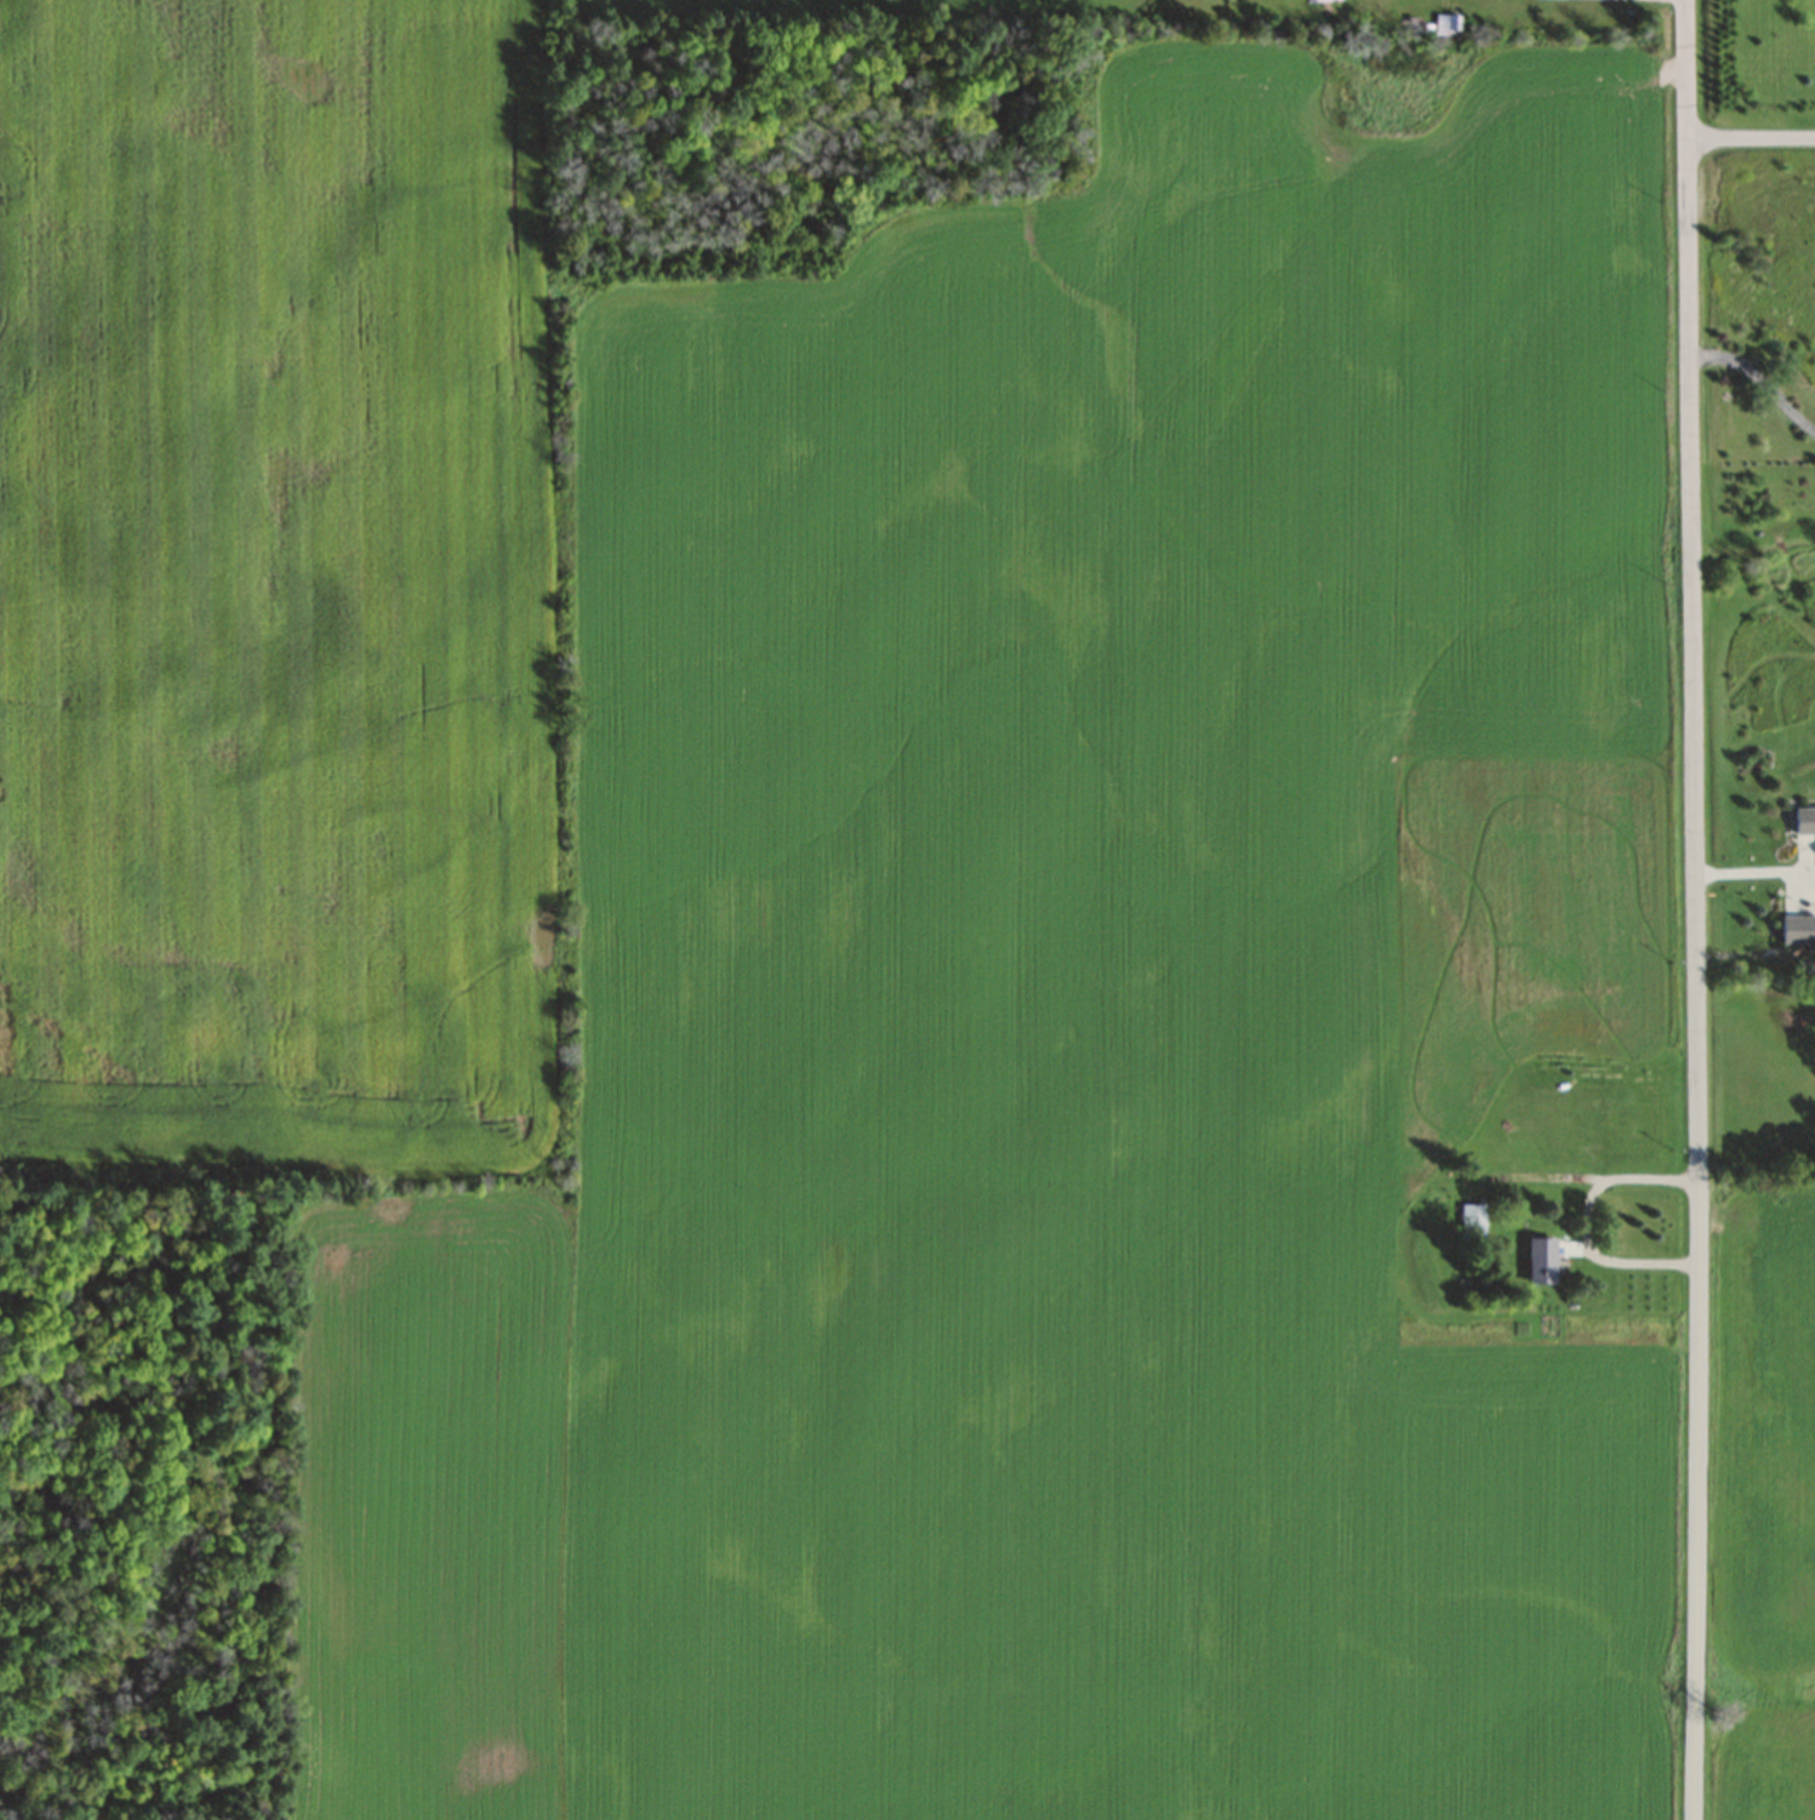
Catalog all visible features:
road: (1751, 136)
road: (1757, 381)
building: (1805, 821)
road: (1696, 909)
building: (1798, 929)
building: (1559, 1128)
building: (1472, 1221)
building: (1537, 1260)

